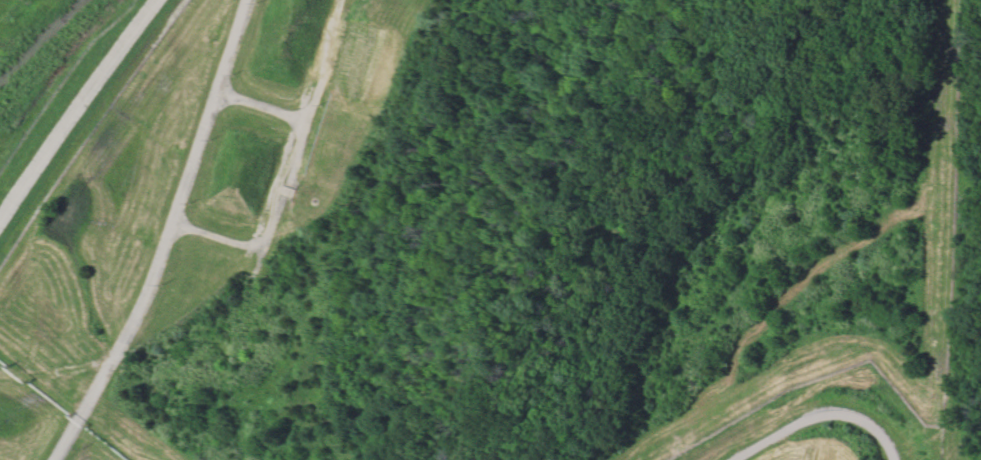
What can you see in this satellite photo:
road: (819, 416)

